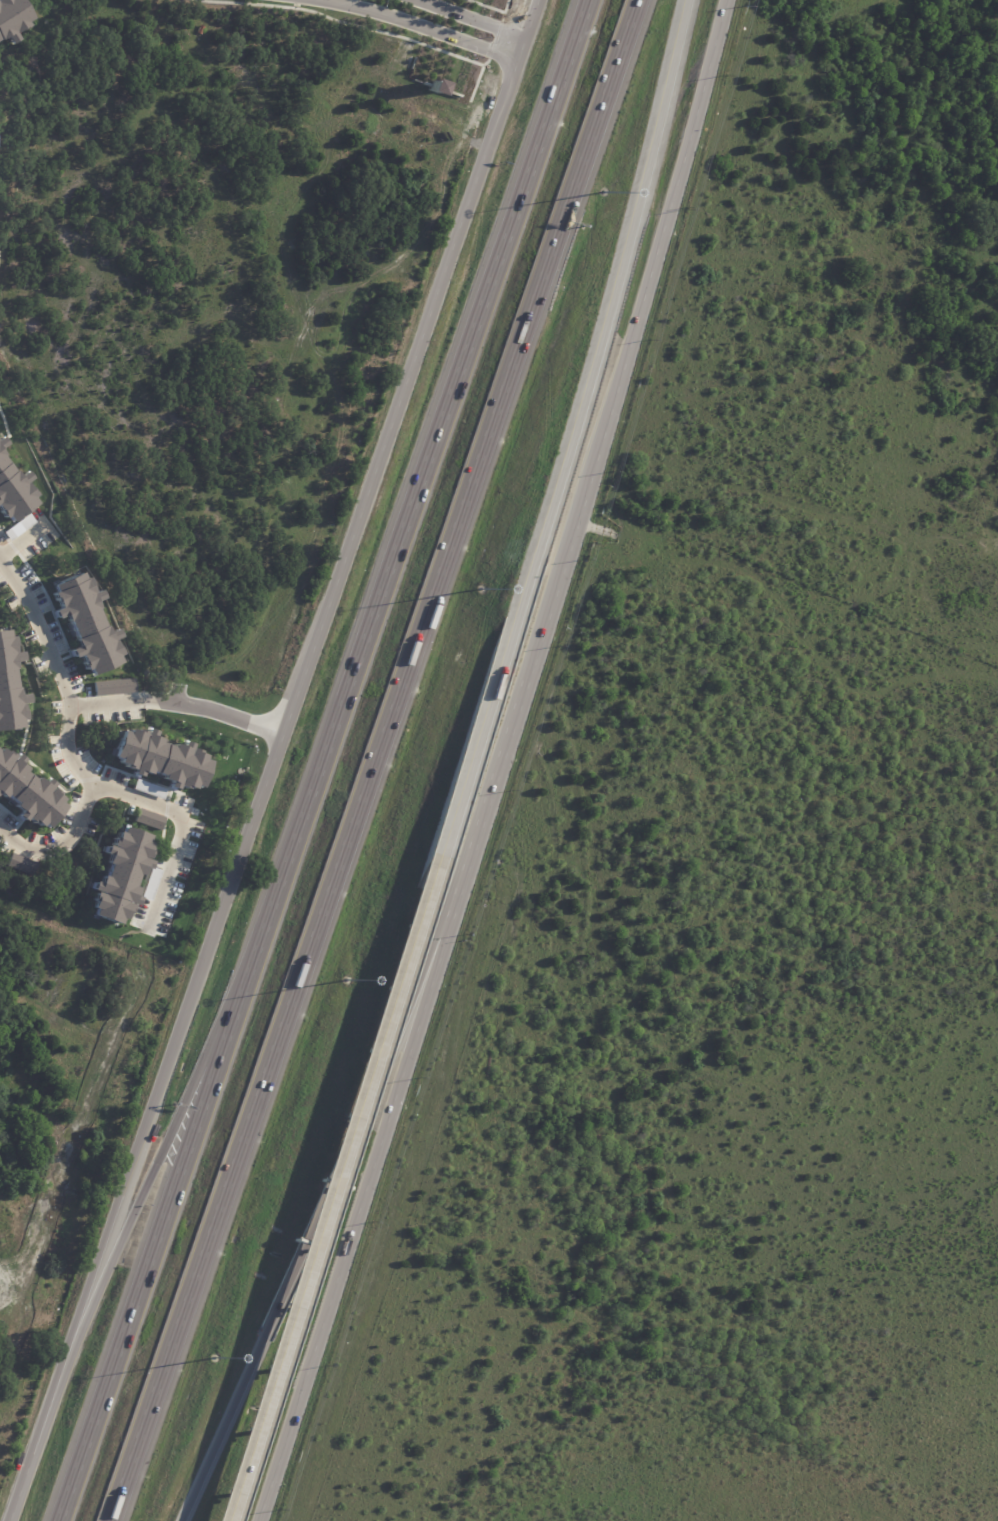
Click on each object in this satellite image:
building: (159, 0)
road: (477, 15)
building: (12, 19)
road: (421, 26)
building: (201, 28)
road: (660, 101)
building: (14, 485)
road: (414, 490)
building: (86, 621)
building: (11, 685)
building: (111, 686)
road: (108, 705)
road: (211, 712)
road: (75, 722)
building: (162, 757)
road: (268, 760)
road: (369, 760)
road: (497, 766)
building: (28, 790)
road: (171, 807)
building: (147, 818)
building: (15, 860)
road: (440, 864)
building: (122, 873)
road: (343, 1149)
road: (113, 1245)
road: (148, 1250)

